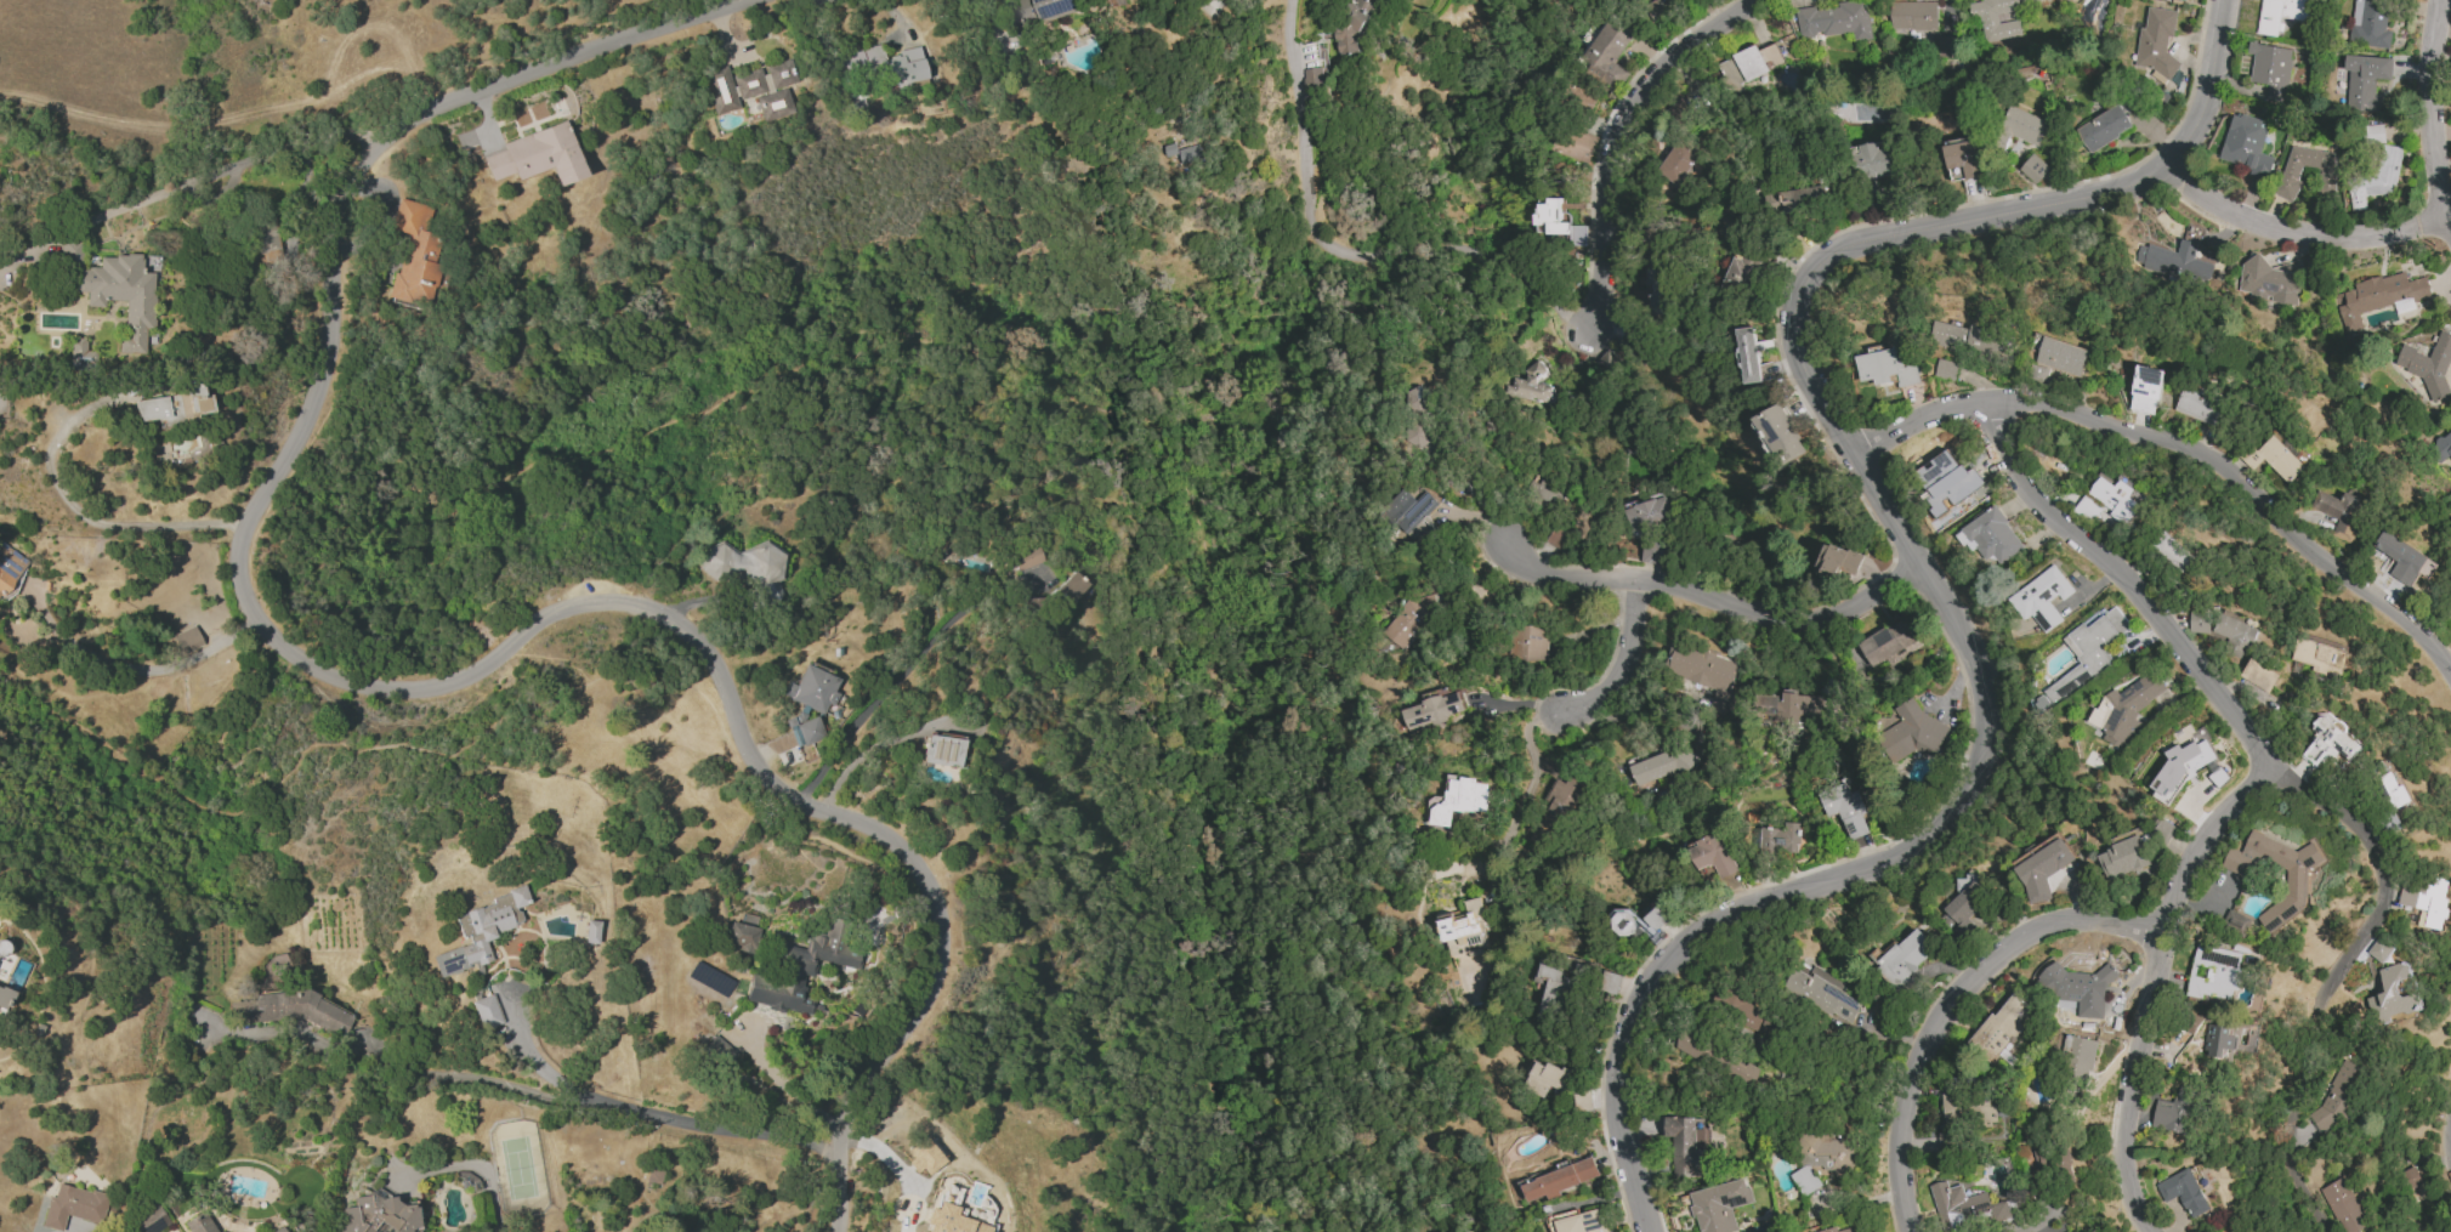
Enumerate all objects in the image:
building: (2185, 0)
building: (1037, 10)
building: (1653, 10)
building: (2280, 13)
building: (1834, 21)
building: (1987, 21)
building: (2370, 23)
building: (1922, 25)
building: (2156, 42)
building: (1605, 52)
building: (883, 64)
building: (1749, 64)
building: (2271, 69)
building: (1312, 78)
building: (2365, 81)
building: (749, 89)
road: (2434, 110)
road: (226, 114)
building: (2025, 126)
building: (2103, 129)
road: (1619, 138)
building: (1573, 143)
building: (2246, 146)
building: (1191, 154)
building: (537, 155)
building: (1962, 157)
building: (1871, 161)
building: (1678, 163)
building: (2033, 169)
building: (2375, 172)
building: (2290, 181)
road: (187, 184)
building: (1804, 198)
building: (1558, 222)
road: (2304, 231)
building: (265, 237)
building: (414, 255)
road: (1338, 259)
building: (2174, 262)
building: (1740, 273)
building: (2268, 280)
building: (115, 289)
building: (2387, 294)
building: (1974, 341)
building: (79, 353)
building: (1749, 354)
building: (2060, 356)
building: (1609, 362)
building: (2429, 365)
building: (1884, 368)
building: (1946, 370)
building: (2146, 390)
road: (1057, 394)
building: (2202, 408)
building: (1415, 425)
building: (1780, 433)
building: (2443, 448)
road: (2185, 450)
building: (2276, 462)
building: (1954, 486)
building: (1541, 493)
building: (2110, 494)
building: (1409, 509)
road: (79, 512)
building: (1650, 513)
building: (2328, 513)
building: (1558, 538)
building: (1990, 540)
building: (1653, 552)
building: (2171, 555)
building: (1025, 557)
building: (2399, 557)
building: (1839, 560)
road: (1914, 563)
building: (8, 566)
building: (744, 566)
building: (1065, 589)
building: (2041, 601)
road: (1714, 607)
building: (2450, 613)
building: (1411, 618)
building: (2223, 631)
building: (186, 638)
building: (1888, 642)
building: (1527, 643)
building: (2089, 649)
building: (2317, 658)
road: (1616, 672)
building: (1706, 675)
building: (2259, 676)
road: (893, 681)
road: (392, 688)
building: (811, 688)
road: (2215, 696)
road: (596, 698)
building: (1434, 708)
building: (1788, 708)
building: (2129, 710)
building: (1910, 732)
building: (2328, 743)
building: (941, 750)
building: (1661, 765)
building: (2189, 768)
road: (1532, 778)
building: (2389, 793)
building: (1459, 800)
building: (1845, 808)
building: (1554, 810)
building: (2161, 830)
building: (1778, 838)
building: (1713, 856)
building: (2123, 857)
building: (2042, 868)
building: (2297, 886)
building: (2426, 896)
building: (1962, 905)
building: (1636, 921)
building: (2235, 921)
building: (1466, 927)
building: (480, 931)
building: (590, 931)
building: (742, 933)
building: (0, 944)
building: (2381, 949)
building: (1902, 955)
building: (798, 970)
building: (2212, 976)
building: (1610, 983)
road: (2146, 983)
building: (1549, 986)
building: (2081, 988)
building: (1822, 993)
building: (2392, 994)
building: (4, 998)
road: (1950, 1006)
building: (486, 1011)
building: (1998, 1031)
building: (2217, 1040)
building: (1696, 1046)
building: (717, 1051)
building: (2078, 1056)
building: (1737, 1068)
road: (467, 1075)
building: (1543, 1078)
road: (787, 1088)
building: (2337, 1096)
building: (1952, 1107)
building: (2177, 1109)
road: (654, 1113)
building: (1984, 1113)
building: (1825, 1145)
building: (1684, 1148)
building: (924, 1157)
road: (887, 1173)
building: (1559, 1180)
building: (1805, 1180)
road: (2299, 1182)
building: (2413, 1182)
building: (2183, 1192)
building: (73, 1205)
building: (1719, 1205)
building: (2344, 1205)
building: (1967, 1207)
building: (378, 1214)
building: (949, 1215)
building: (148, 1220)
building: (198, 1222)
building: (1583, 1222)
building: (1831, 1228)
building: (278, 1230)
building: (2446, 1231)

